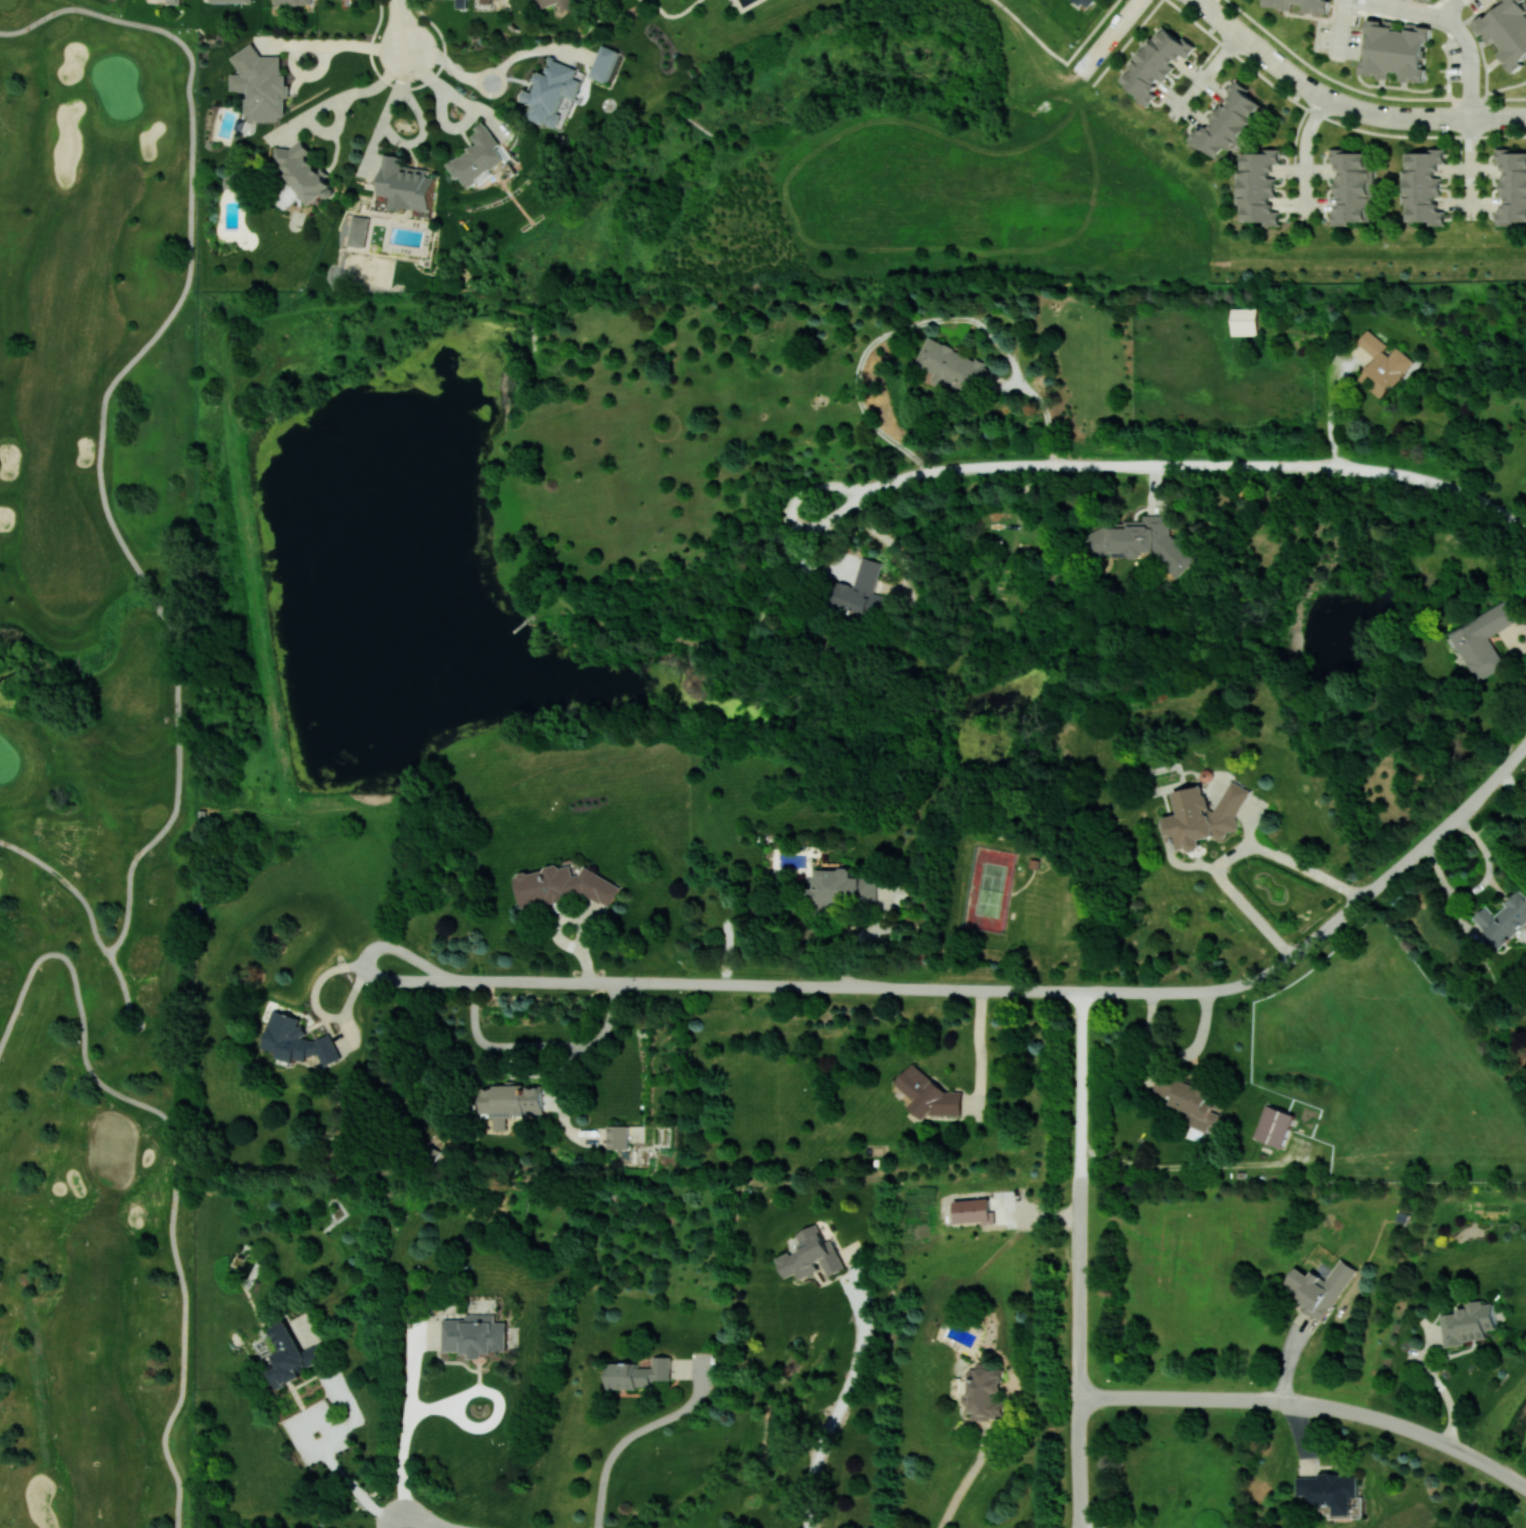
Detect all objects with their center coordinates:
building: (233, 0)
building: (1429, 0)
building: (175, 1)
building: (294, 1)
building: (487, 1)
building: (462, 3)
building: (1086, 3)
building: (546, 4)
building: (1278, 5)
road: (742, 7)
road: (1206, 8)
road: (1449, 9)
road: (671, 16)
road: (1450, 22)
road: (402, 26)
road: (1118, 27)
road: (1338, 29)
building: (1507, 31)
road: (1028, 32)
road: (1090, 32)
road: (1125, 42)
road: (336, 44)
building: (1396, 50)
road: (1208, 54)
building: (1155, 62)
building: (604, 63)
road: (1086, 66)
road: (489, 74)
road: (1205, 76)
building: (261, 84)
road: (1361, 91)
building: (552, 92)
road: (329, 102)
road: (468, 104)
road: (1356, 110)
road: (1327, 118)
building: (1228, 123)
road: (1295, 134)
park: (942, 145)
road: (1459, 149)
building: (479, 156)
road: (1303, 159)
road: (1469, 169)
building: (304, 171)
building: (406, 184)
building: (1257, 186)
building: (1351, 186)
building: (1423, 186)
building: (1512, 186)
road: (190, 231)
building: (358, 231)
park: (1368, 261)
building: (1244, 321)
road: (925, 322)
building: (1383, 365)
building: (951, 366)
road: (1332, 412)
park: (95, 417)
road: (1165, 466)
building: (1144, 541)
park: (424, 571)
building: (860, 590)
road: (150, 592)
dam: (262, 608)
building: (1484, 639)
road: (1514, 640)
road: (79, 666)
road: (176, 692)
road: (1514, 785)
building: (1203, 816)
road: (1234, 850)
building: (565, 885)
building: (842, 887)
road: (1479, 888)
building: (1503, 919)
road: (860, 940)
road: (530, 980)
road: (1150, 992)
building: (297, 1040)
road: (978, 1043)
road: (536, 1044)
building: (929, 1094)
building: (1189, 1101)
building: (511, 1102)
building: (1275, 1126)
building: (618, 1136)
building: (972, 1210)
building: (811, 1255)
road: (1077, 1260)
building: (1320, 1287)
building: (1468, 1323)
building: (475, 1334)
building: (291, 1355)
building: (639, 1373)
road: (1439, 1385)
building: (983, 1391)
road: (1172, 1398)
road: (839, 1403)
road: (1319, 1403)
road: (433, 1408)
road: (500, 1409)
road: (408, 1417)
road: (637, 1431)
road: (1451, 1443)
road: (960, 1483)
building: (1330, 1490)
road: (356, 1493)
road: (421, 1524)
road: (1083, 1525)

